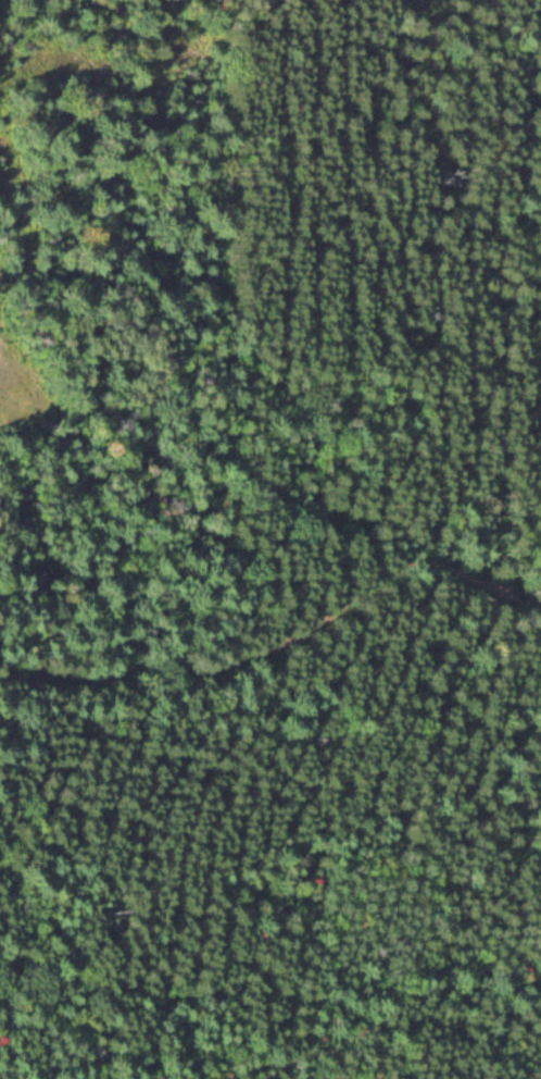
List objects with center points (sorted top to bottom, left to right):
road: (282, 634)

